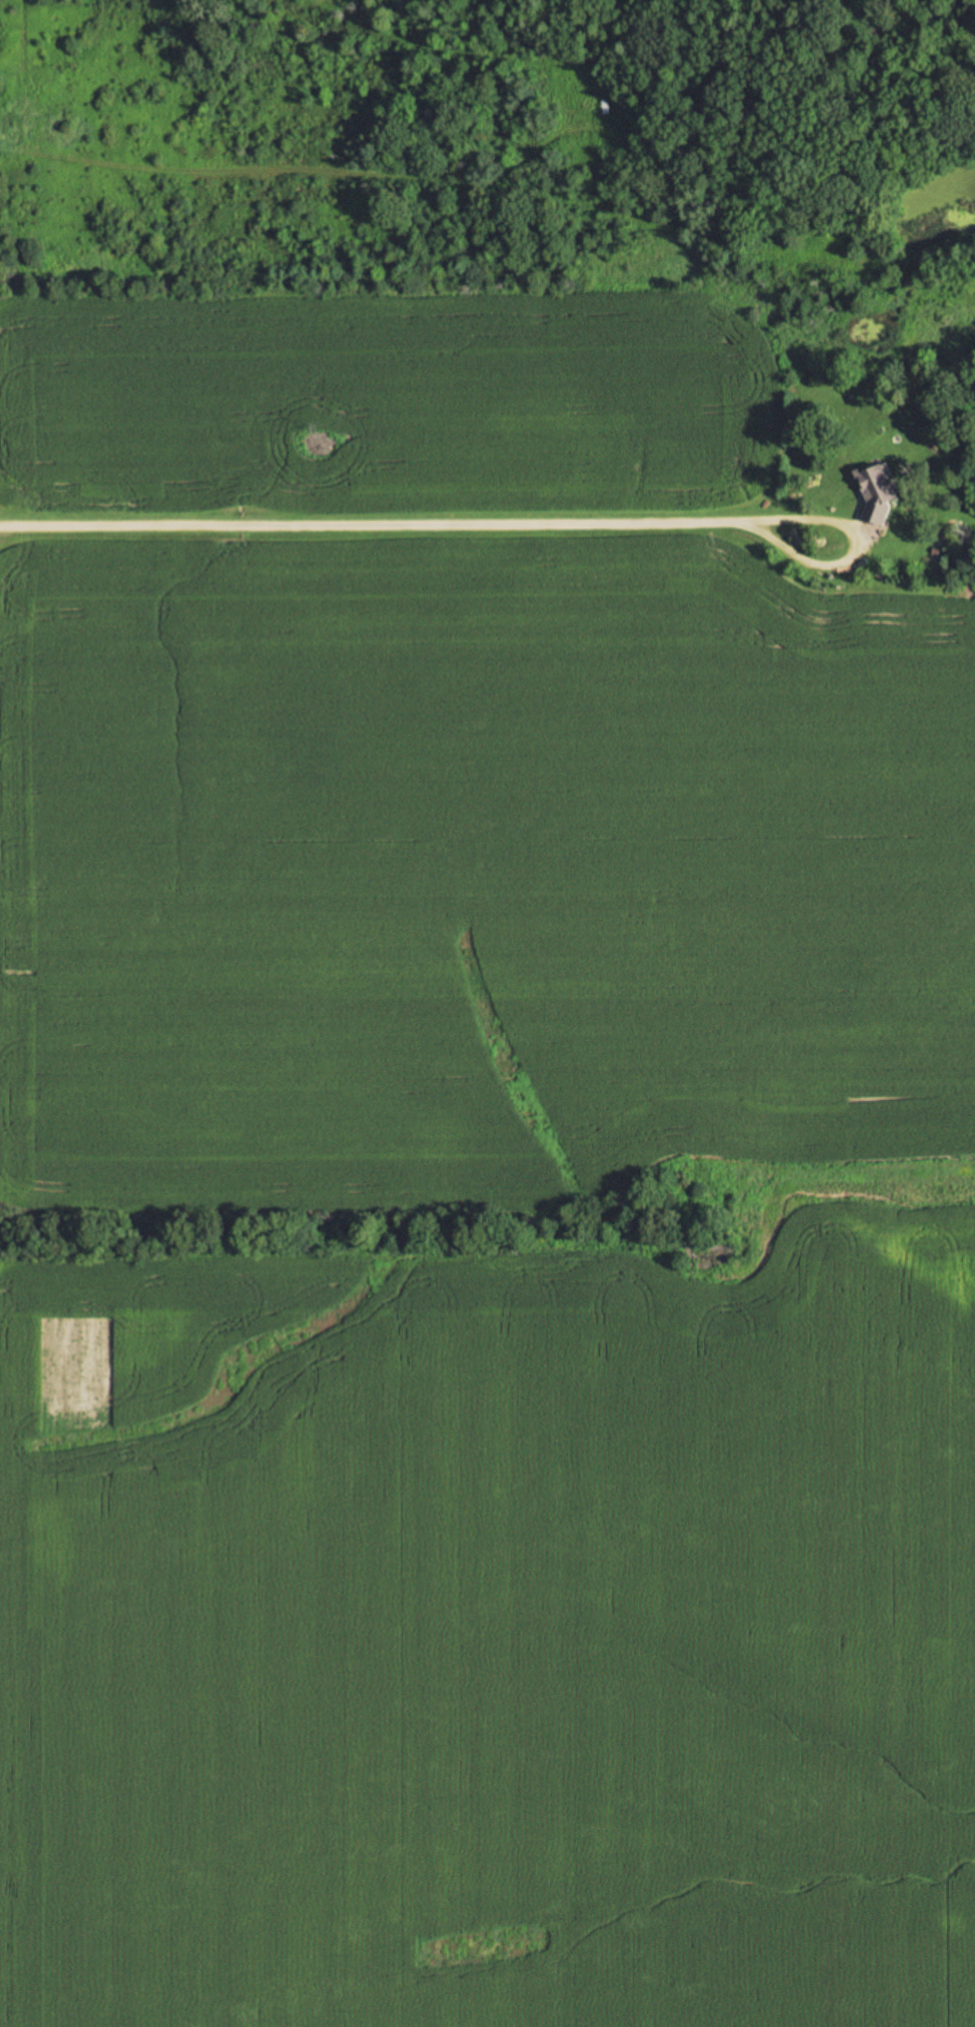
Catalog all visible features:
building: (876, 492)

